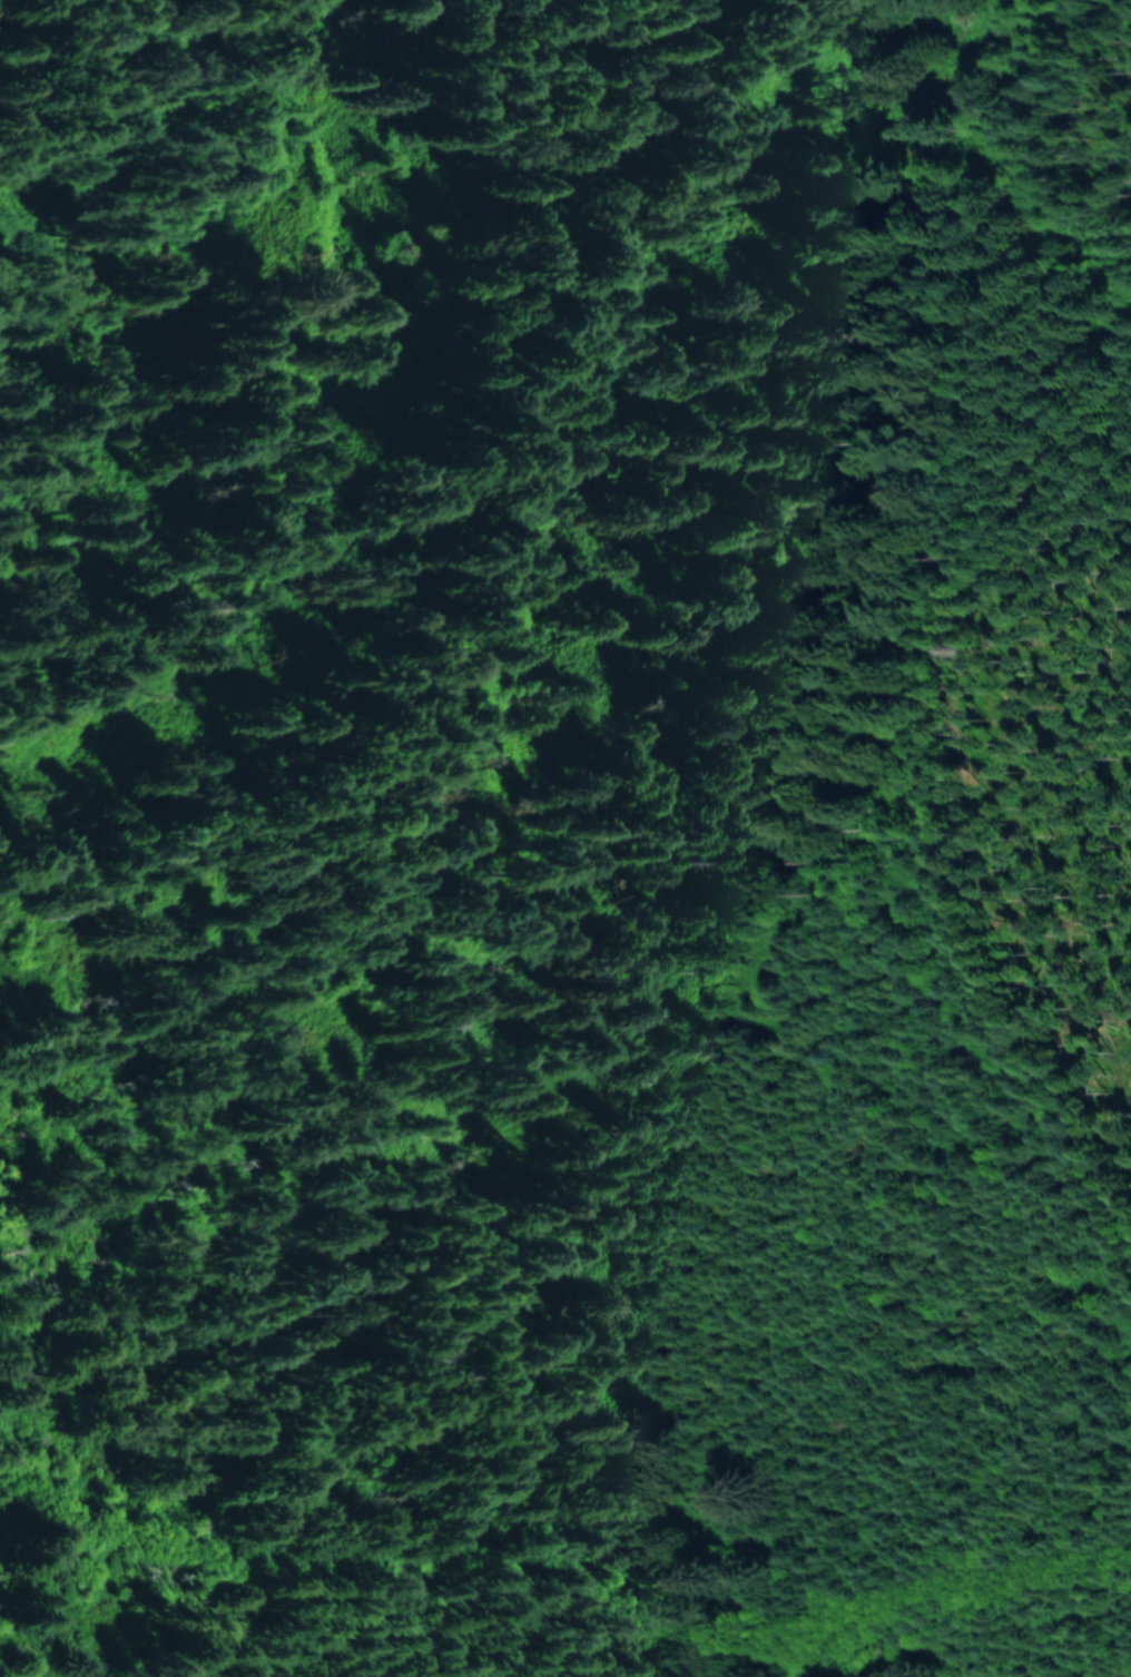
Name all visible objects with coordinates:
road: (545, 1428)

